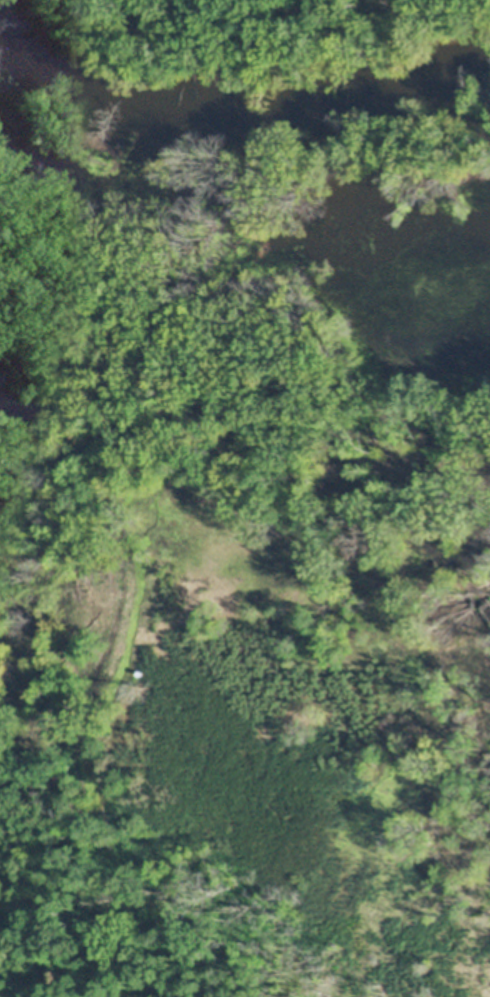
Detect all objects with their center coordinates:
river: (226, 119)

